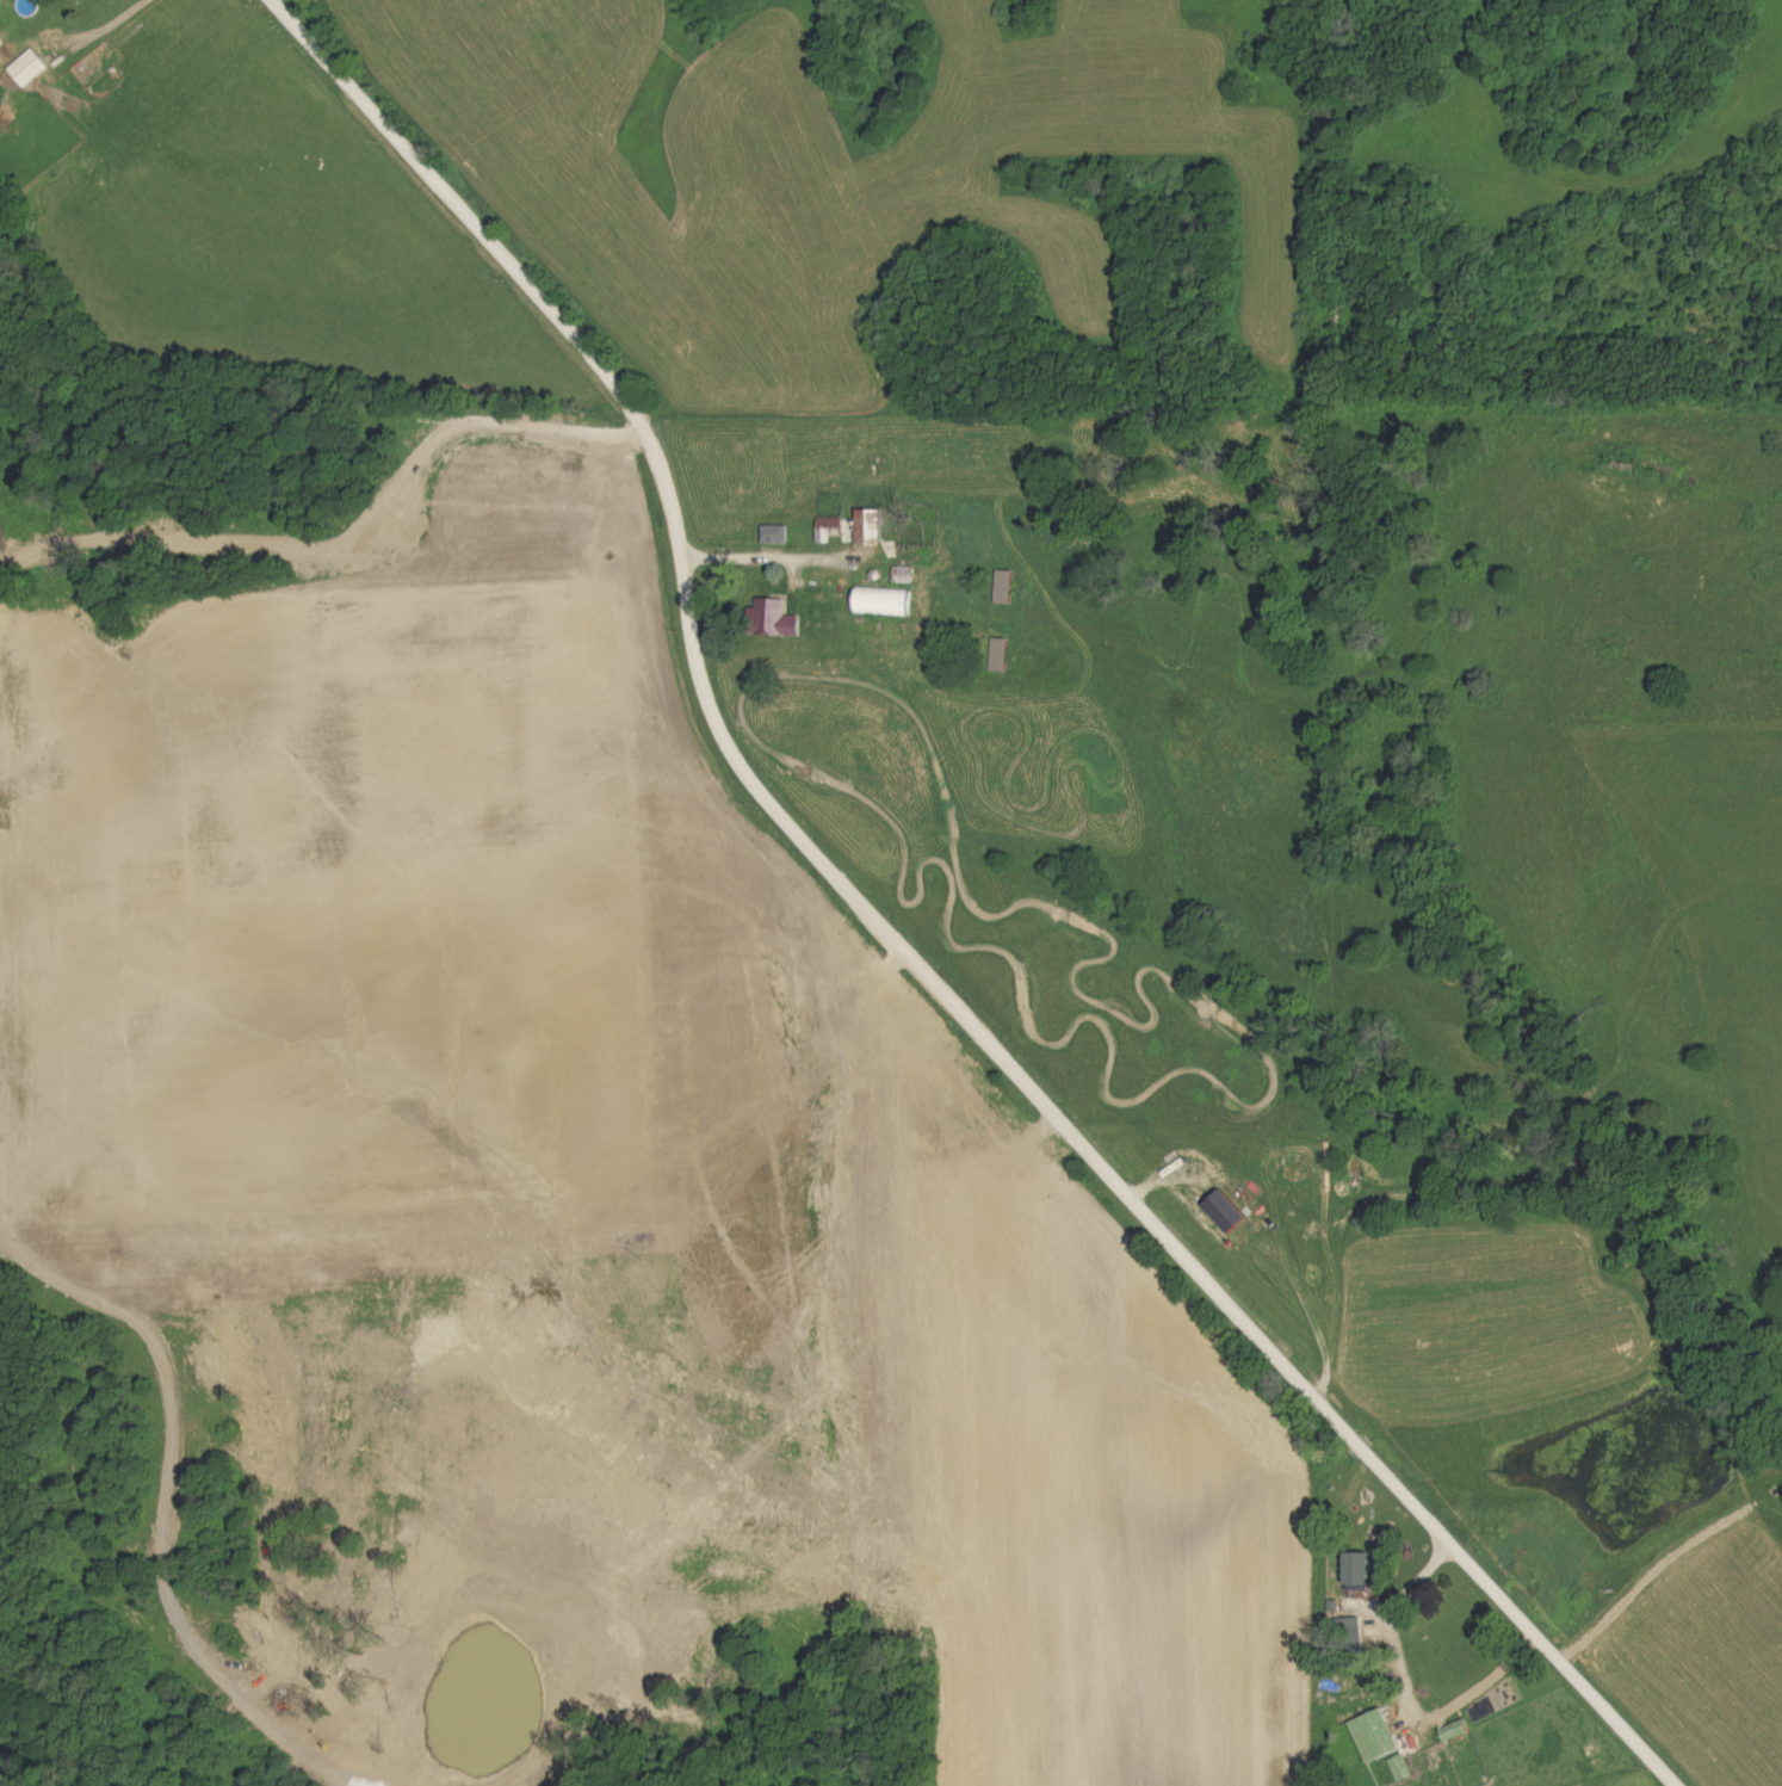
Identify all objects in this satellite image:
road: (117, 23)
building: (32, 69)
building: (833, 527)
building: (873, 527)
building: (776, 536)
road: (776, 554)
building: (886, 602)
building: (780, 619)
road: (892, 941)
building: (1231, 1213)
building: (1365, 1569)
building: (1459, 1730)
building: (1379, 1737)
building: (1404, 1769)

